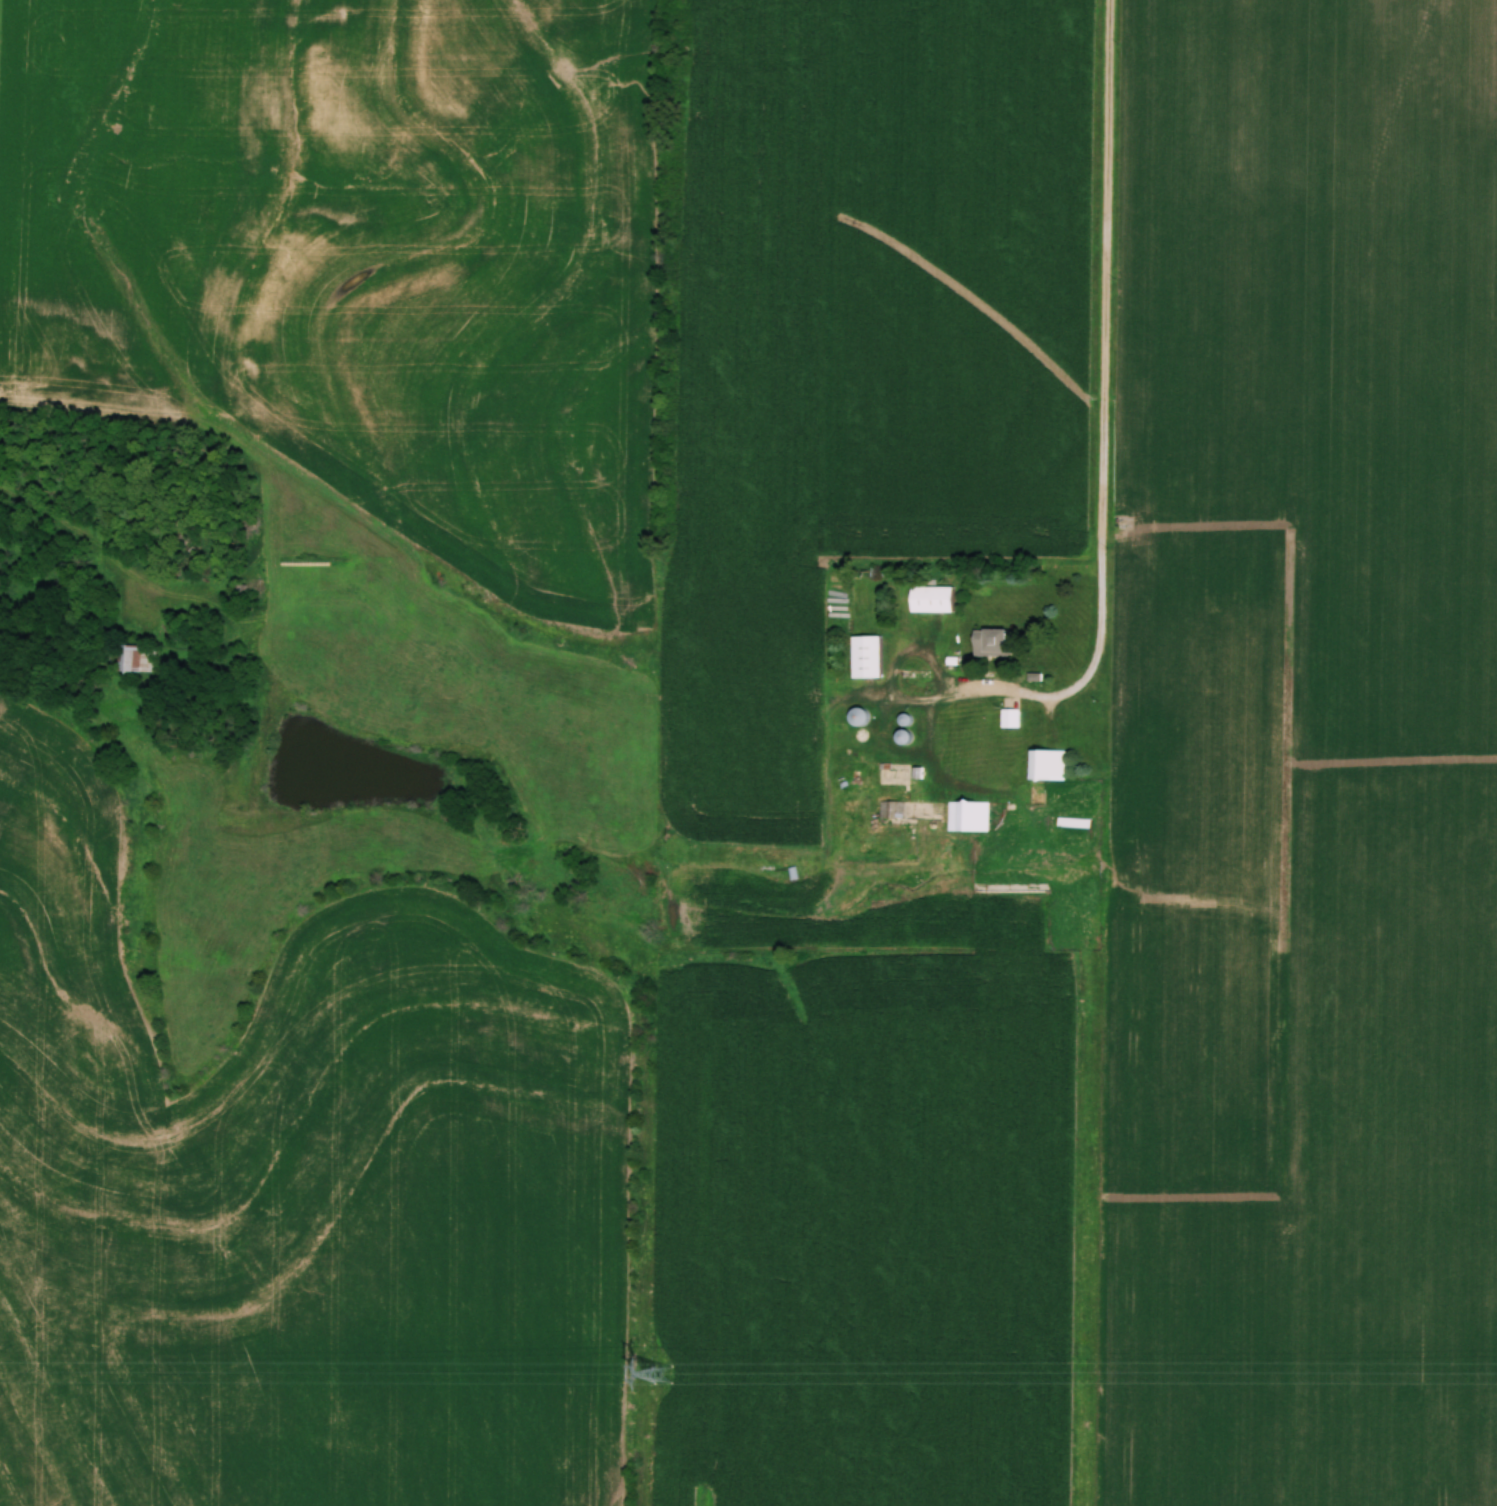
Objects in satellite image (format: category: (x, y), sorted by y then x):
road: (1107, 414)
building: (934, 600)
building: (993, 643)
building: (868, 658)
building: (137, 659)
building: (860, 717)
building: (1048, 765)
building: (969, 816)
power tower: (664, 1376)

